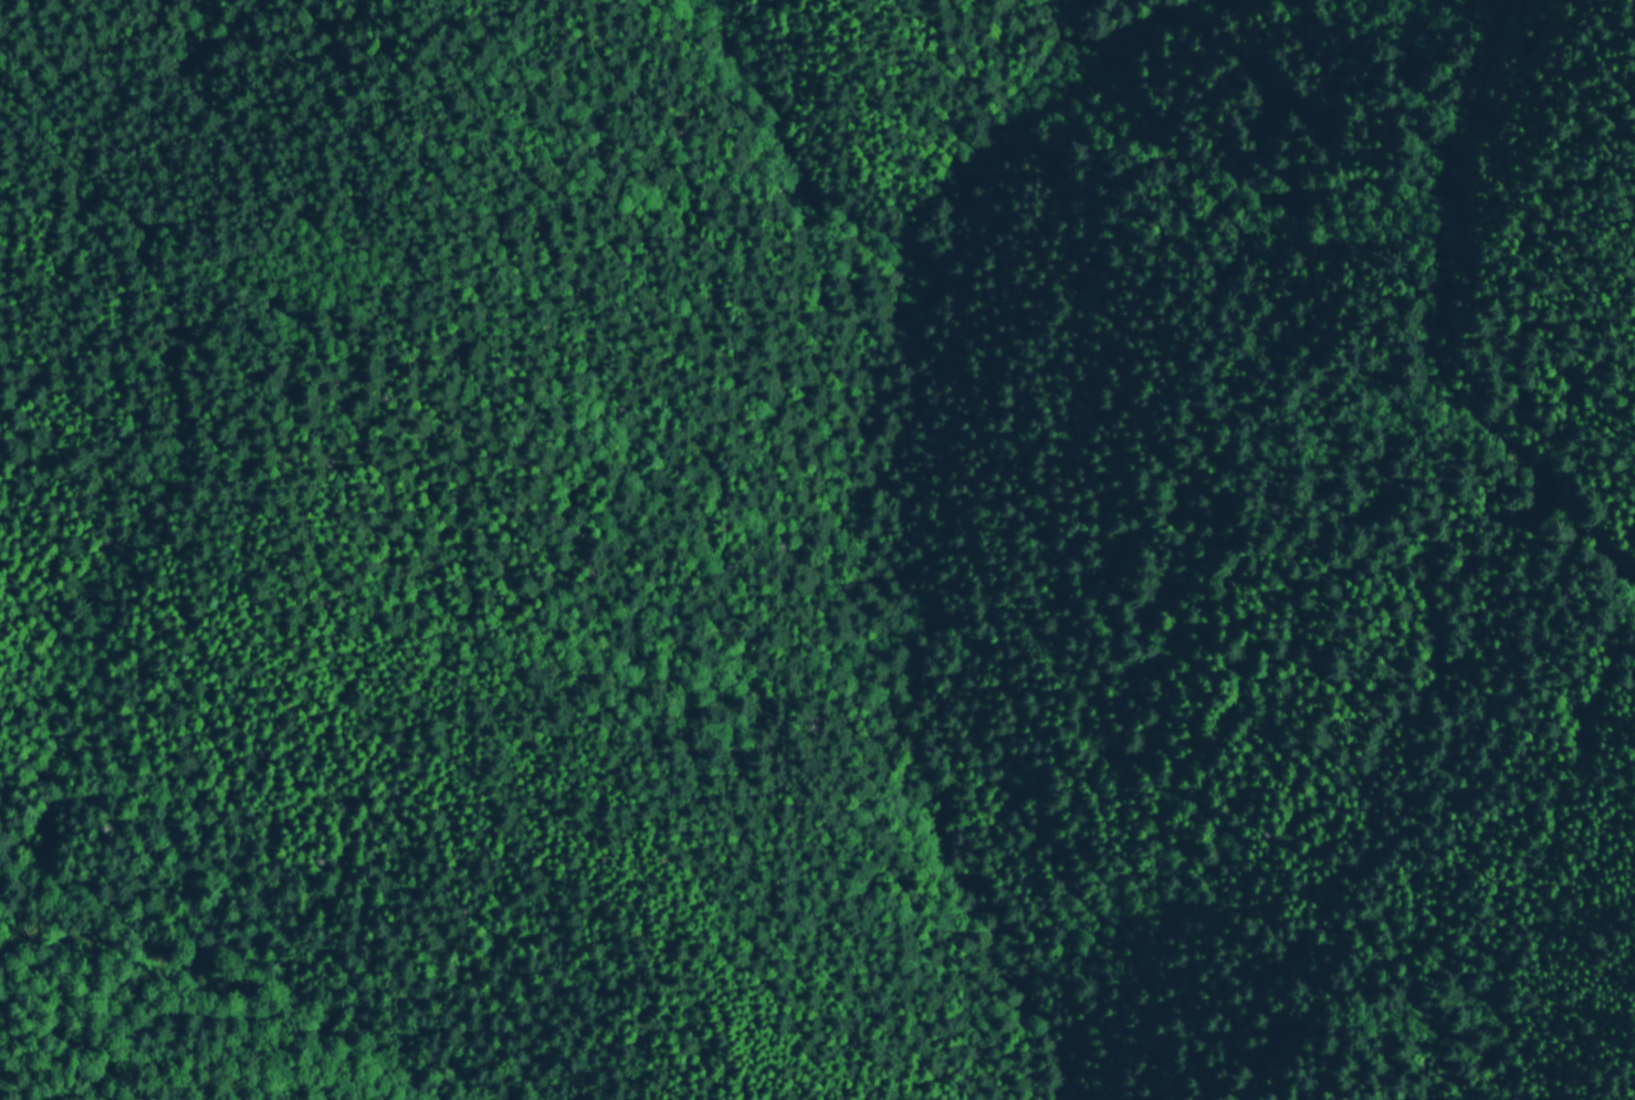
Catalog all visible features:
road: (1427, 317)

